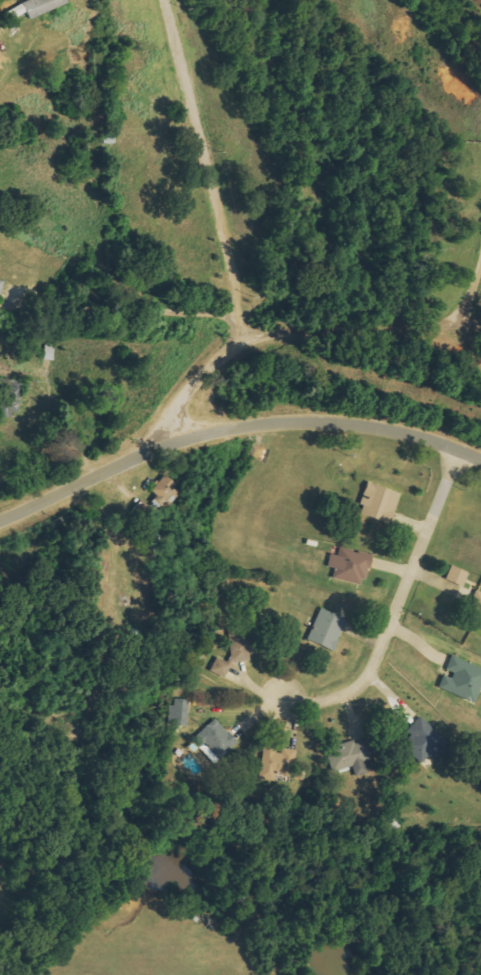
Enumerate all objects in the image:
building: (40, 6)
building: (14, 12)
building: (0, 283)
road: (127, 308)
road: (292, 330)
road: (455, 344)
road: (234, 428)
building: (163, 490)
building: (376, 503)
building: (347, 566)
road: (405, 608)
building: (475, 610)
building: (323, 630)
building: (227, 661)
building: (460, 680)
building: (177, 712)
building: (422, 740)
building: (348, 756)
building: (274, 762)

